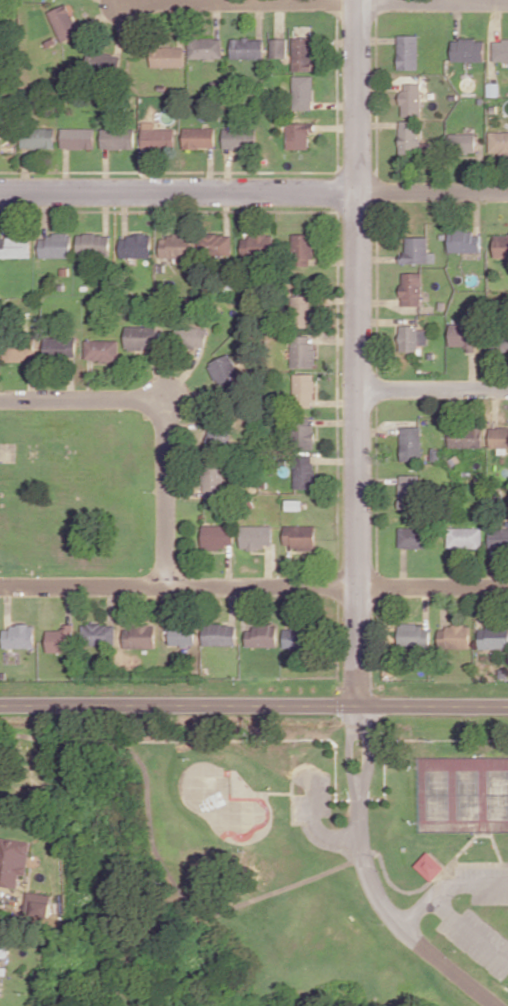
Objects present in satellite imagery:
road: (242, 1)
road: (433, 2)
building: (65, 22)
building: (279, 47)
building: (206, 48)
building: (248, 48)
building: (468, 49)
building: (500, 50)
building: (408, 51)
building: (303, 53)
building: (168, 56)
building: (104, 61)
building: (303, 92)
building: (411, 100)
building: (298, 135)
building: (157, 136)
building: (410, 136)
building: (38, 137)
building: (199, 137)
building: (78, 138)
building: (118, 138)
building: (240, 138)
building: (463, 142)
building: (499, 142)
road: (253, 192)
building: (464, 241)
building: (93, 243)
building: (214, 244)
building: (55, 245)
building: (257, 245)
building: (136, 246)
building: (176, 246)
building: (501, 246)
building: (15, 247)
building: (302, 248)
building: (417, 251)
building: (411, 289)
building: (302, 310)
building: (191, 335)
building: (464, 336)
building: (140, 337)
building: (412, 337)
building: (501, 341)
building: (60, 345)
building: (21, 349)
building: (102, 350)
building: (303, 351)
road: (359, 352)
building: (224, 372)
building: (304, 390)
road: (434, 391)
road: (163, 416)
building: (304, 435)
building: (219, 437)
building: (466, 437)
building: (498, 437)
building: (411, 443)
building: (304, 471)
building: (213, 481)
building: (408, 490)
park: (77, 494)
building: (292, 504)
building: (218, 536)
building: (256, 536)
building: (300, 536)
building: (414, 537)
building: (465, 537)
building: (498, 538)
road: (230, 567)
road: (84, 586)
road: (337, 587)
road: (69, 602)
road: (111, 602)
road: (9, 605)
building: (98, 633)
building: (219, 634)
building: (182, 635)
building: (262, 635)
building: (414, 635)
building: (19, 636)
building: (141, 636)
building: (296, 637)
building: (455, 637)
building: (493, 638)
building: (61, 639)
building: (503, 672)
building: (5, 674)
road: (254, 705)
park: (437, 793)
park: (468, 793)
park: (498, 793)
park: (272, 858)
building: (16, 864)
building: (429, 864)
parking lot: (481, 870)
road: (370, 883)
road: (466, 883)
road: (183, 894)
parking lot: (490, 896)
building: (37, 903)
road: (414, 911)
parking lot: (486, 926)
road: (469, 928)
parking lot: (473, 949)
building: (3, 952)
road: (1, 987)

